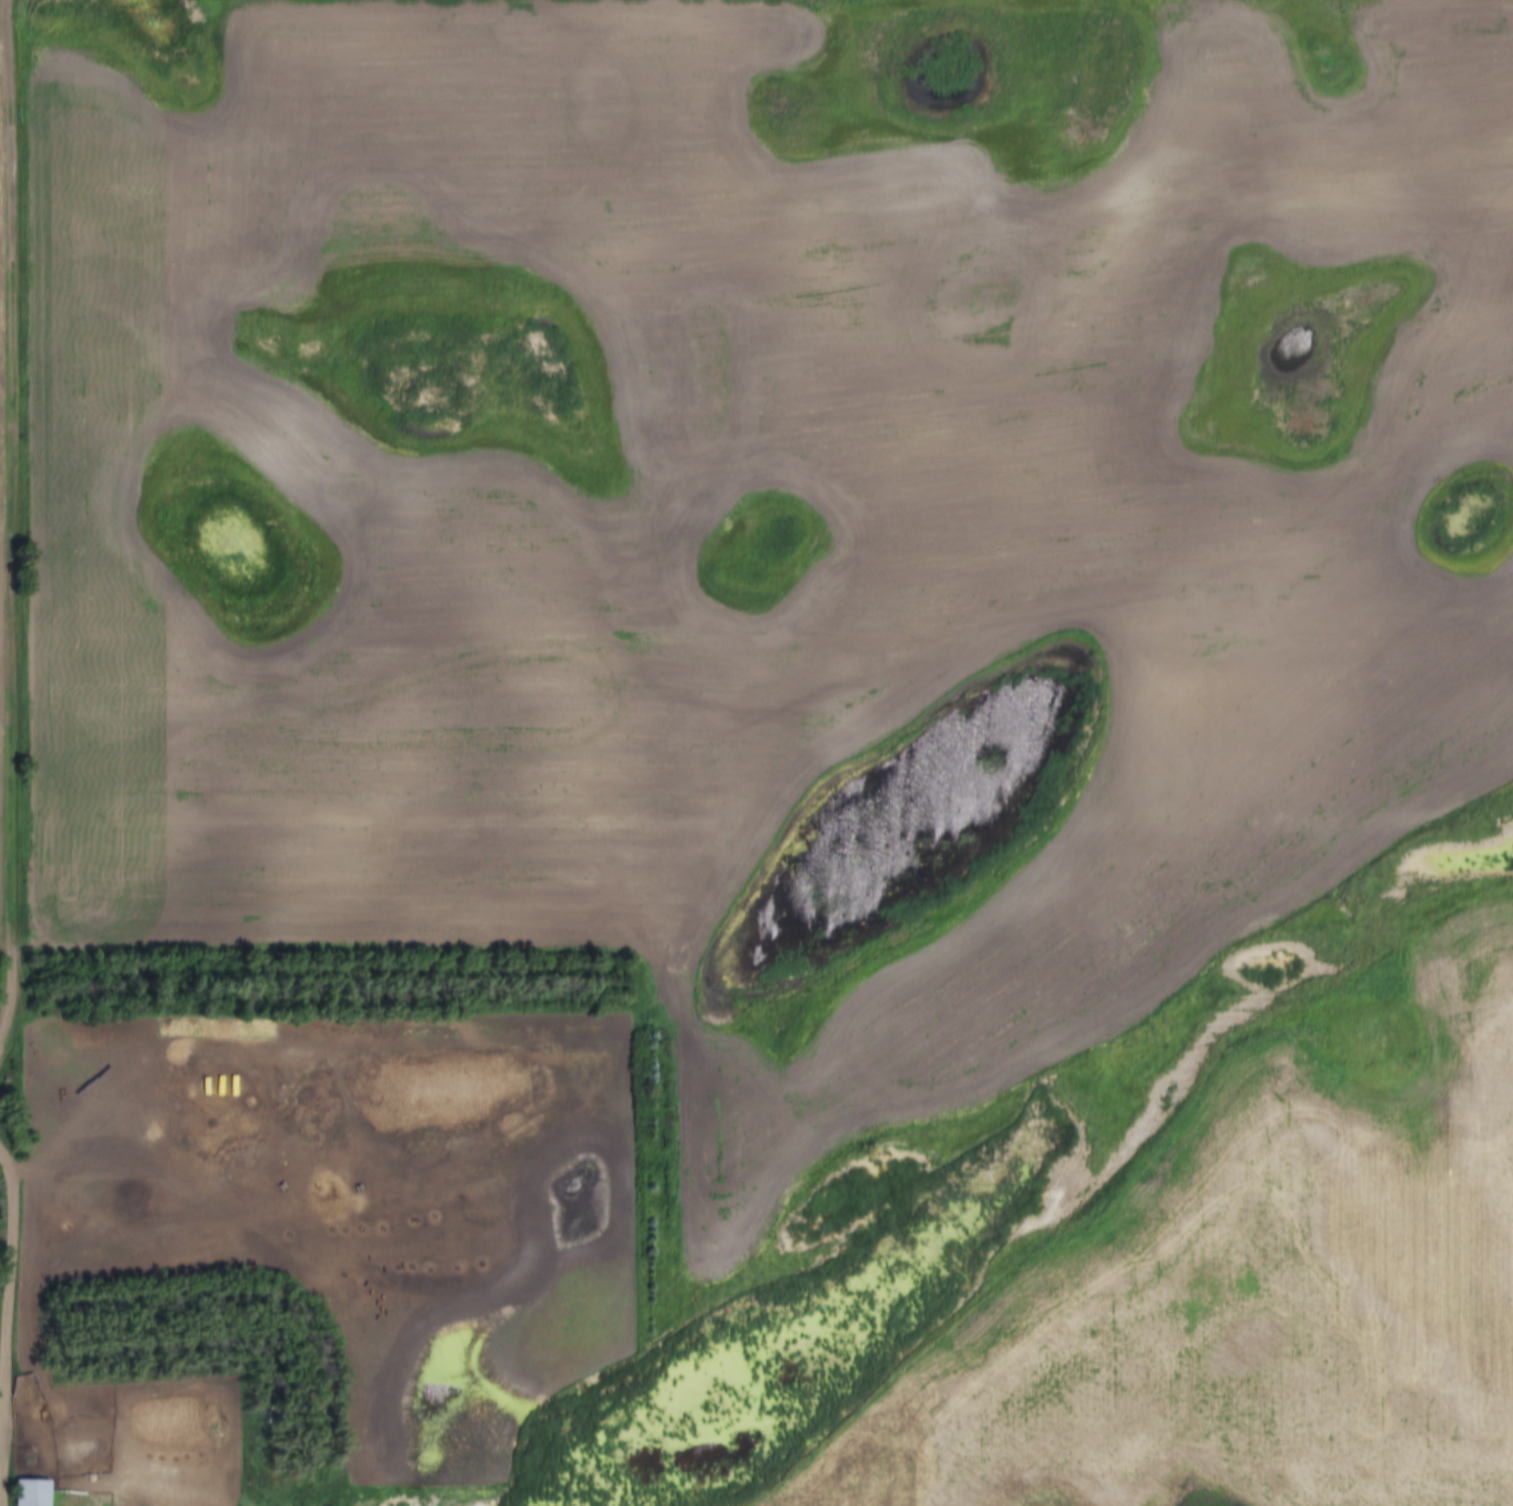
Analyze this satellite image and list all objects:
road: (5, 1360)

